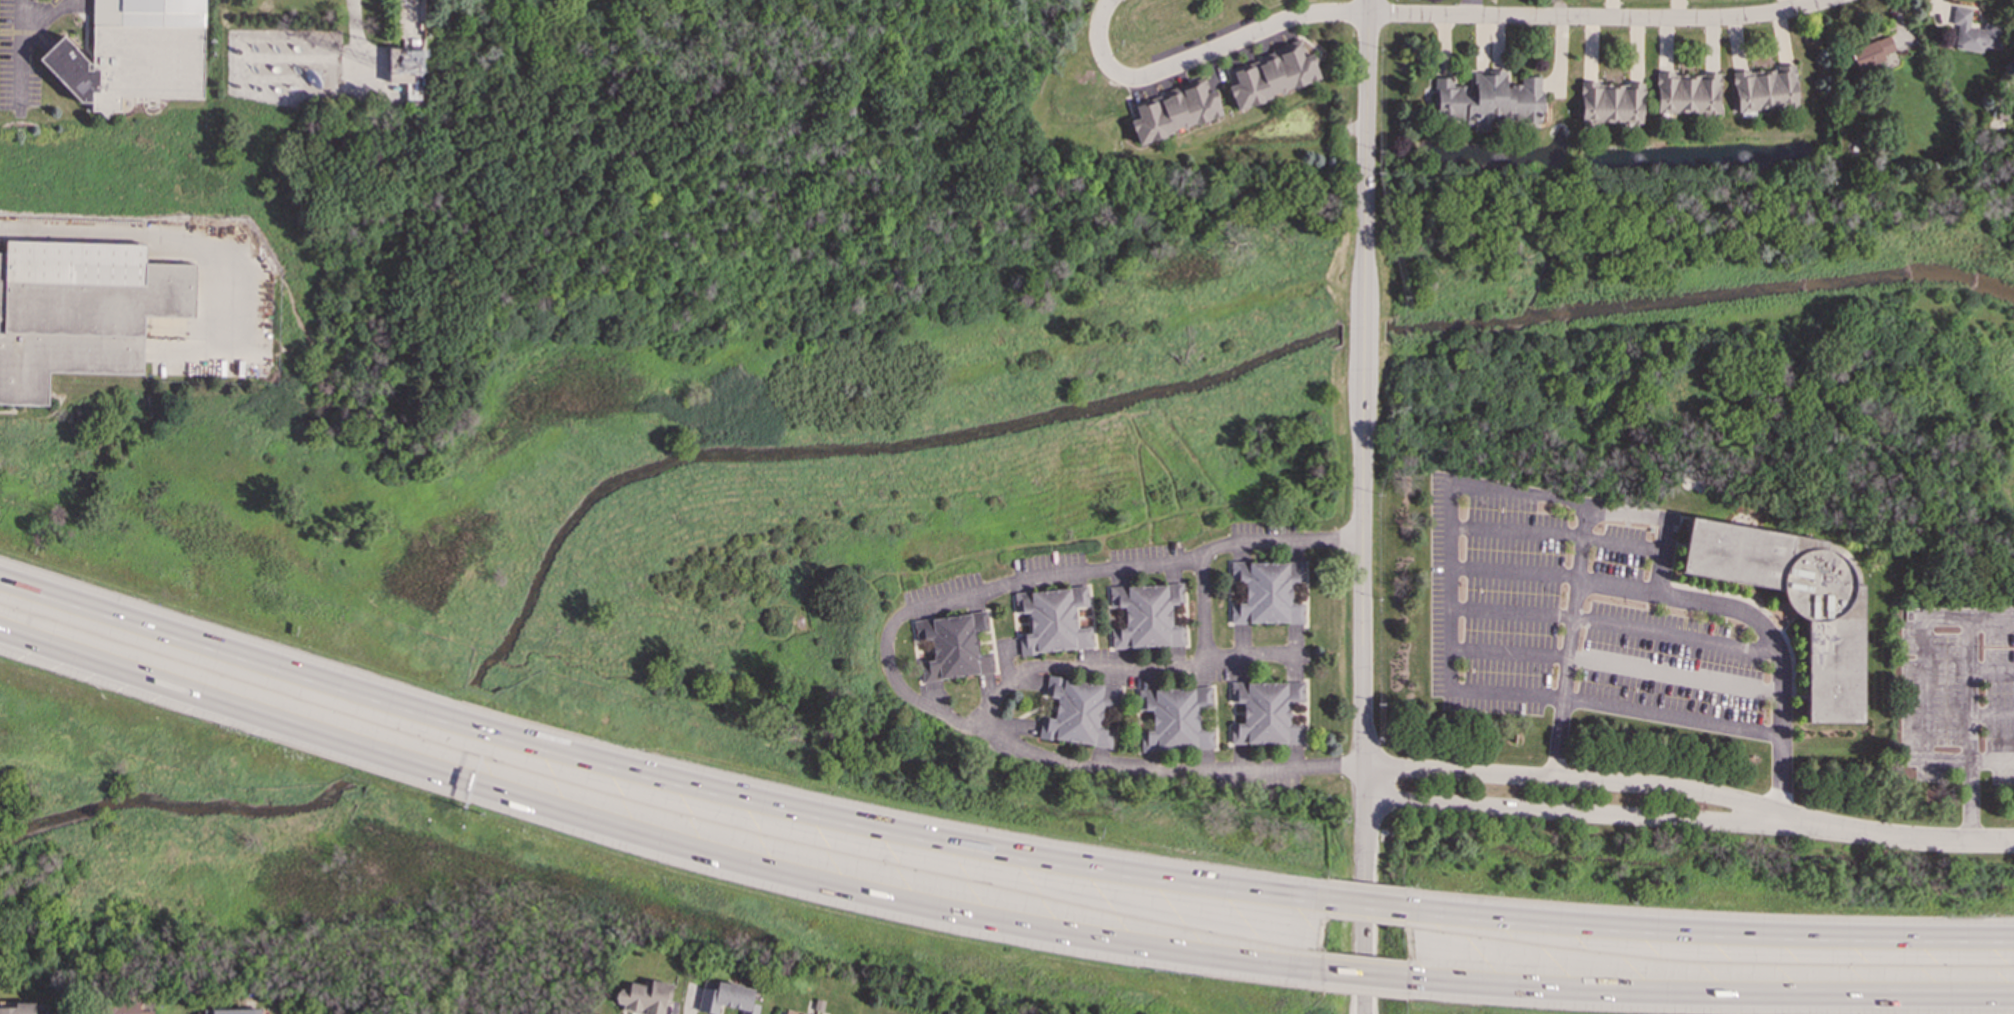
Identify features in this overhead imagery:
parking lot: (70, 6)
road: (41, 12)
road: (1595, 15)
road: (354, 32)
building: (1974, 32)
road: (19, 50)
road: (1202, 50)
parking lot: (21, 52)
building: (135, 53)
building: (1870, 53)
parking lot: (1207, 54)
building: (407, 70)
building: (1272, 74)
building: (1764, 89)
building: (1686, 93)
building: (1486, 99)
building: (1611, 103)
building: (1174, 111)
road: (1365, 120)
building: (80, 311)
road: (1477, 485)
parking lot: (1265, 539)
parking lot: (1145, 562)
parking lot: (1048, 571)
road: (1552, 574)
road: (1236, 583)
road: (1298, 591)
road: (1228, 592)
building: (1266, 592)
road: (1306, 593)
parking lot: (945, 597)
road: (1177, 603)
building: (1795, 603)
road: (1084, 607)
road: (1116, 608)
road: (1185, 614)
building: (1147, 615)
road: (1014, 616)
road: (1092, 616)
road: (1993, 616)
road: (1108, 618)
building: (1054, 620)
road: (1023, 623)
road: (1362, 627)
road: (1567, 641)
building: (953, 646)
road: (992, 648)
road: (884, 654)
parking lot: (1294, 654)
road: (915, 655)
road: (1250, 657)
parking lot: (1233, 658)
road: (1921, 662)
parking lot: (1130, 667)
road: (1125, 668)
road: (1111, 708)
road: (1206, 708)
building: (1079, 712)
road: (1145, 712)
road: (1233, 712)
road: (1238, 713)
building: (1266, 713)
road: (1298, 713)
road: (1993, 713)
road: (1306, 714)
road: (1214, 717)
road: (1117, 718)
road: (1137, 720)
building: (1175, 720)
road: (1970, 736)
road: (1992, 759)
parking lot: (1229, 770)
road: (652, 777)
road: (1571, 778)
road: (1570, 808)
road: (1894, 834)
road: (651, 838)
park: (208, 861)
road: (1366, 907)
road: (1711, 934)
road: (1364, 977)
road: (1710, 996)
building: (644, 998)
building: (727, 999)
building: (125, 1008)
building: (24, 1009)
building: (233, 1011)
building: (314, 1013)
building: (790, 1013)

